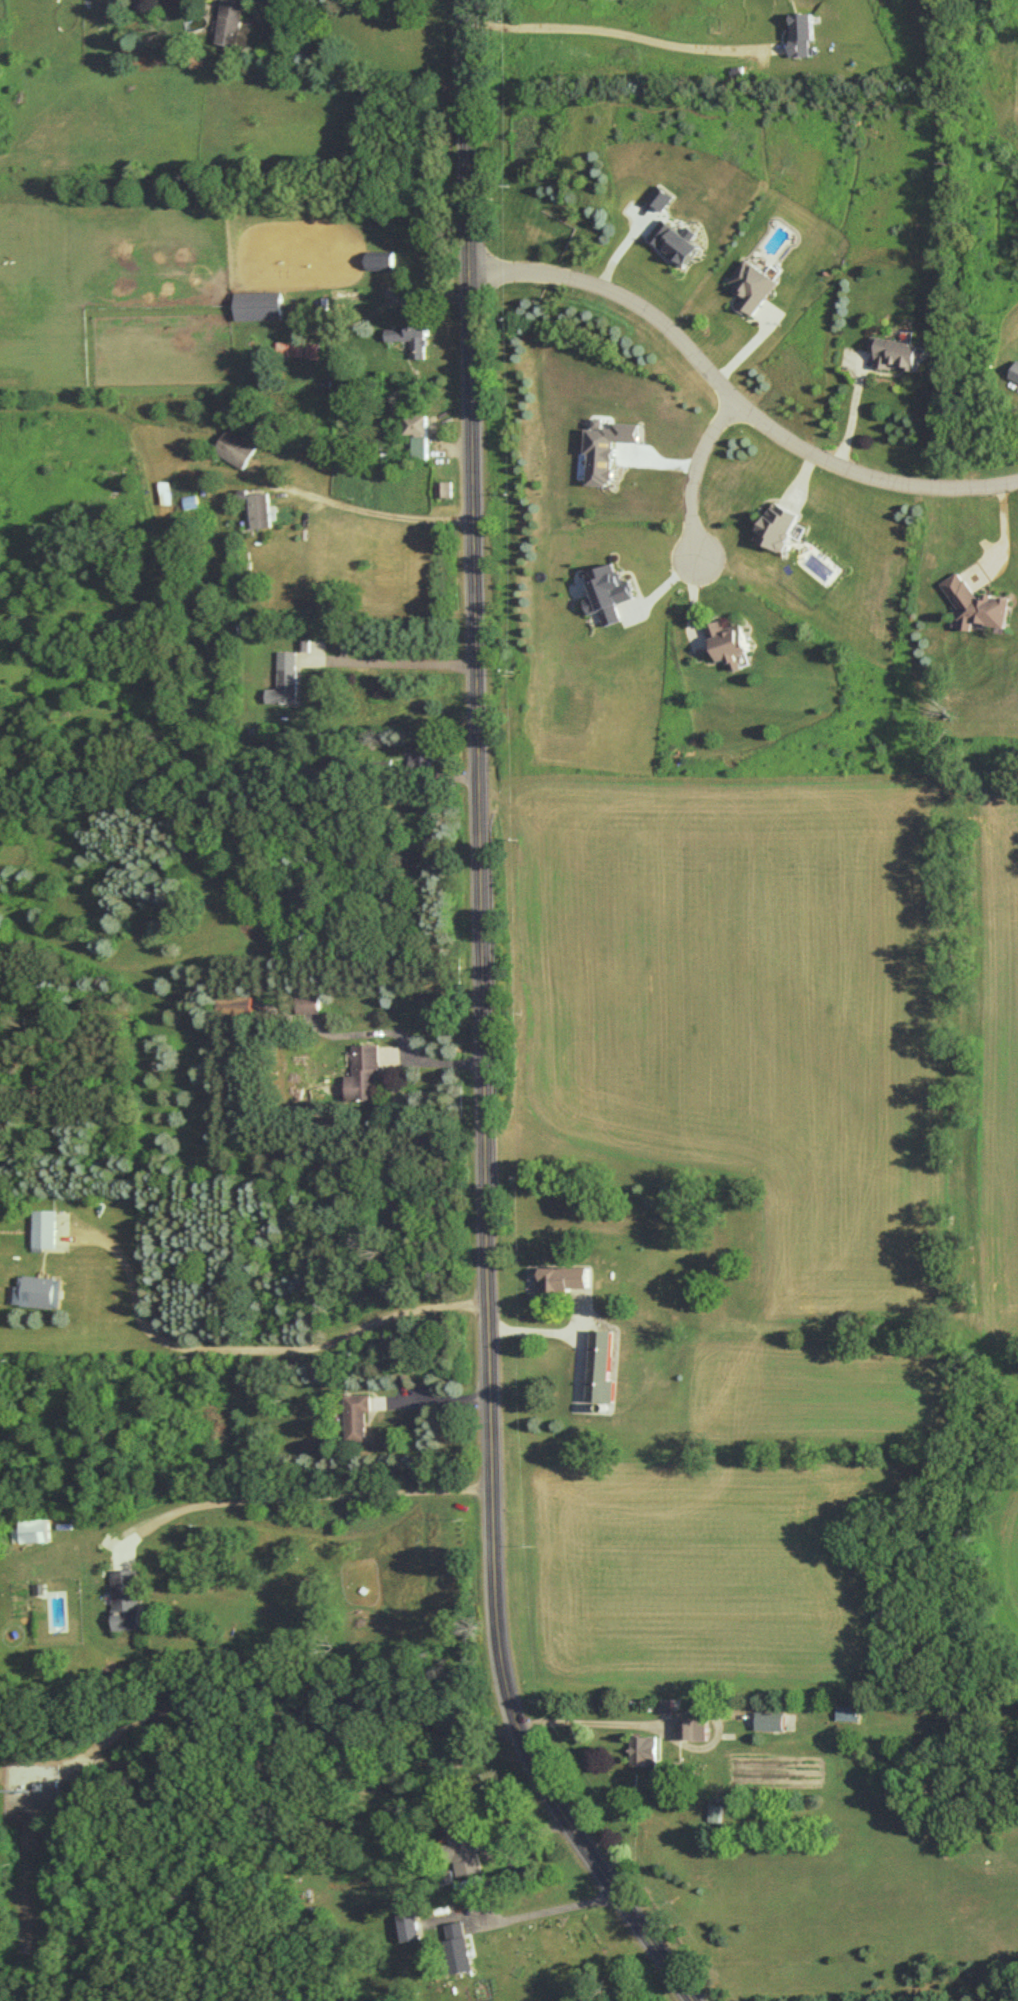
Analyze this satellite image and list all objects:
building: (231, 21)
building: (804, 33)
road: (622, 34)
building: (662, 197)
building: (677, 240)
building: (379, 259)
building: (752, 286)
building: (411, 332)
building: (295, 348)
building: (897, 354)
building: (1014, 372)
road: (736, 400)
road: (854, 414)
building: (417, 433)
building: (235, 448)
road: (691, 470)
building: (189, 501)
road: (389, 514)
building: (778, 526)
building: (610, 592)
building: (974, 604)
building: (730, 643)
building: (286, 679)
road: (400, 687)
building: (422, 755)
road: (485, 1028)
road: (402, 1032)
building: (366, 1070)
building: (47, 1228)
building: (565, 1277)
building: (36, 1292)
road: (536, 1329)
road: (250, 1349)
road: (437, 1399)
building: (359, 1415)
road: (301, 1495)
building: (36, 1529)
building: (128, 1600)
building: (667, 1705)
building: (771, 1720)
road: (574, 1727)
building: (695, 1728)
building: (644, 1749)
building: (464, 1847)
road: (551, 1909)
building: (410, 1926)
building: (460, 1946)

